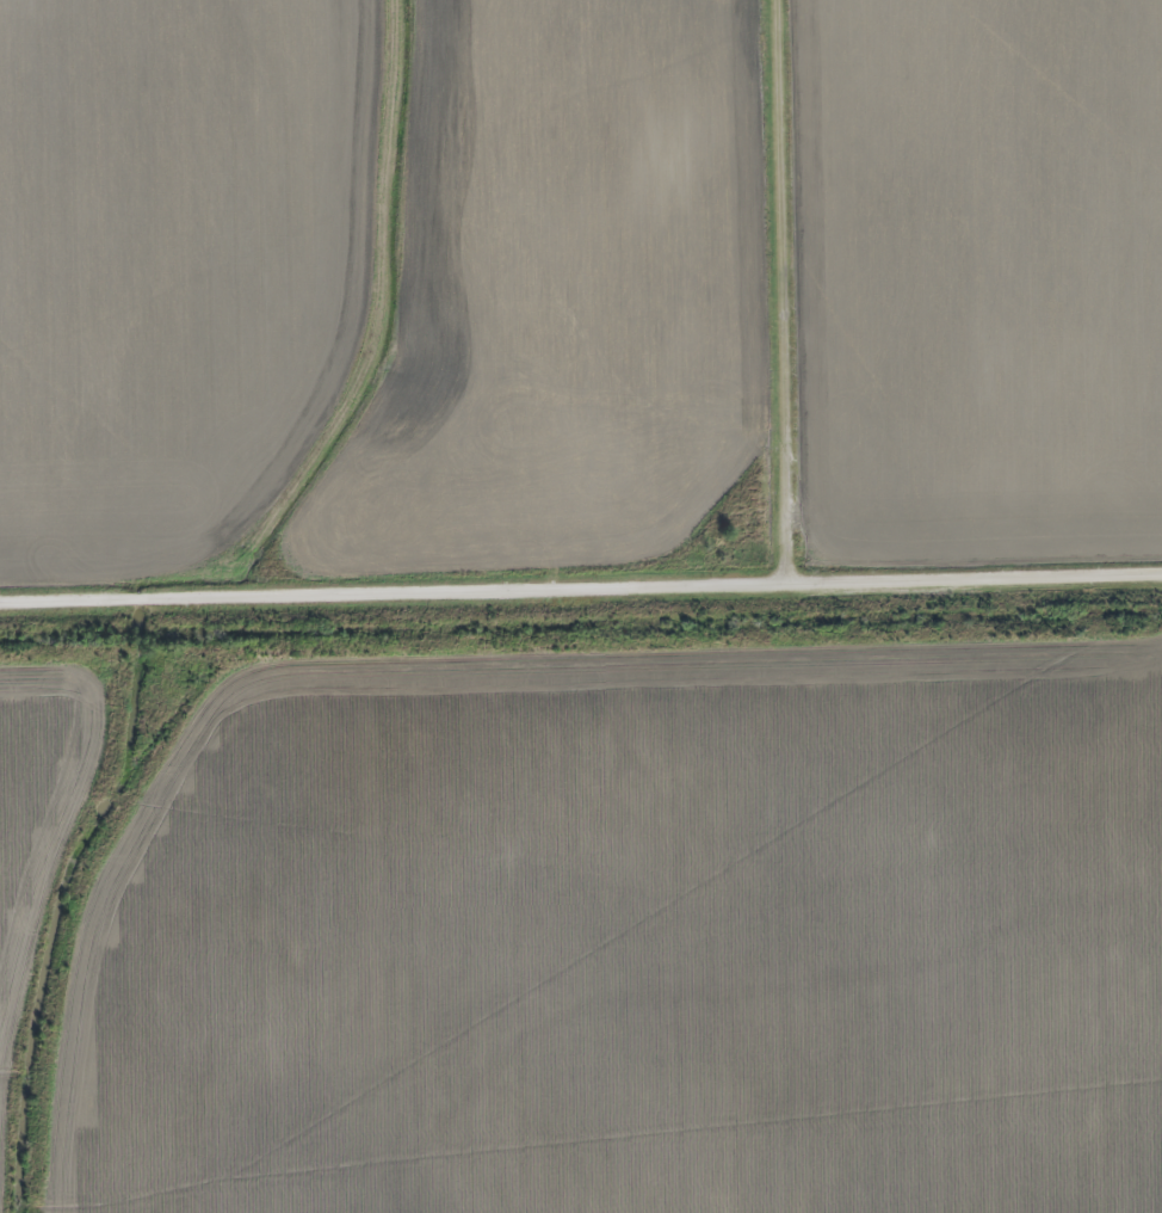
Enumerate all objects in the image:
road: (801, 291)
road: (581, 587)

